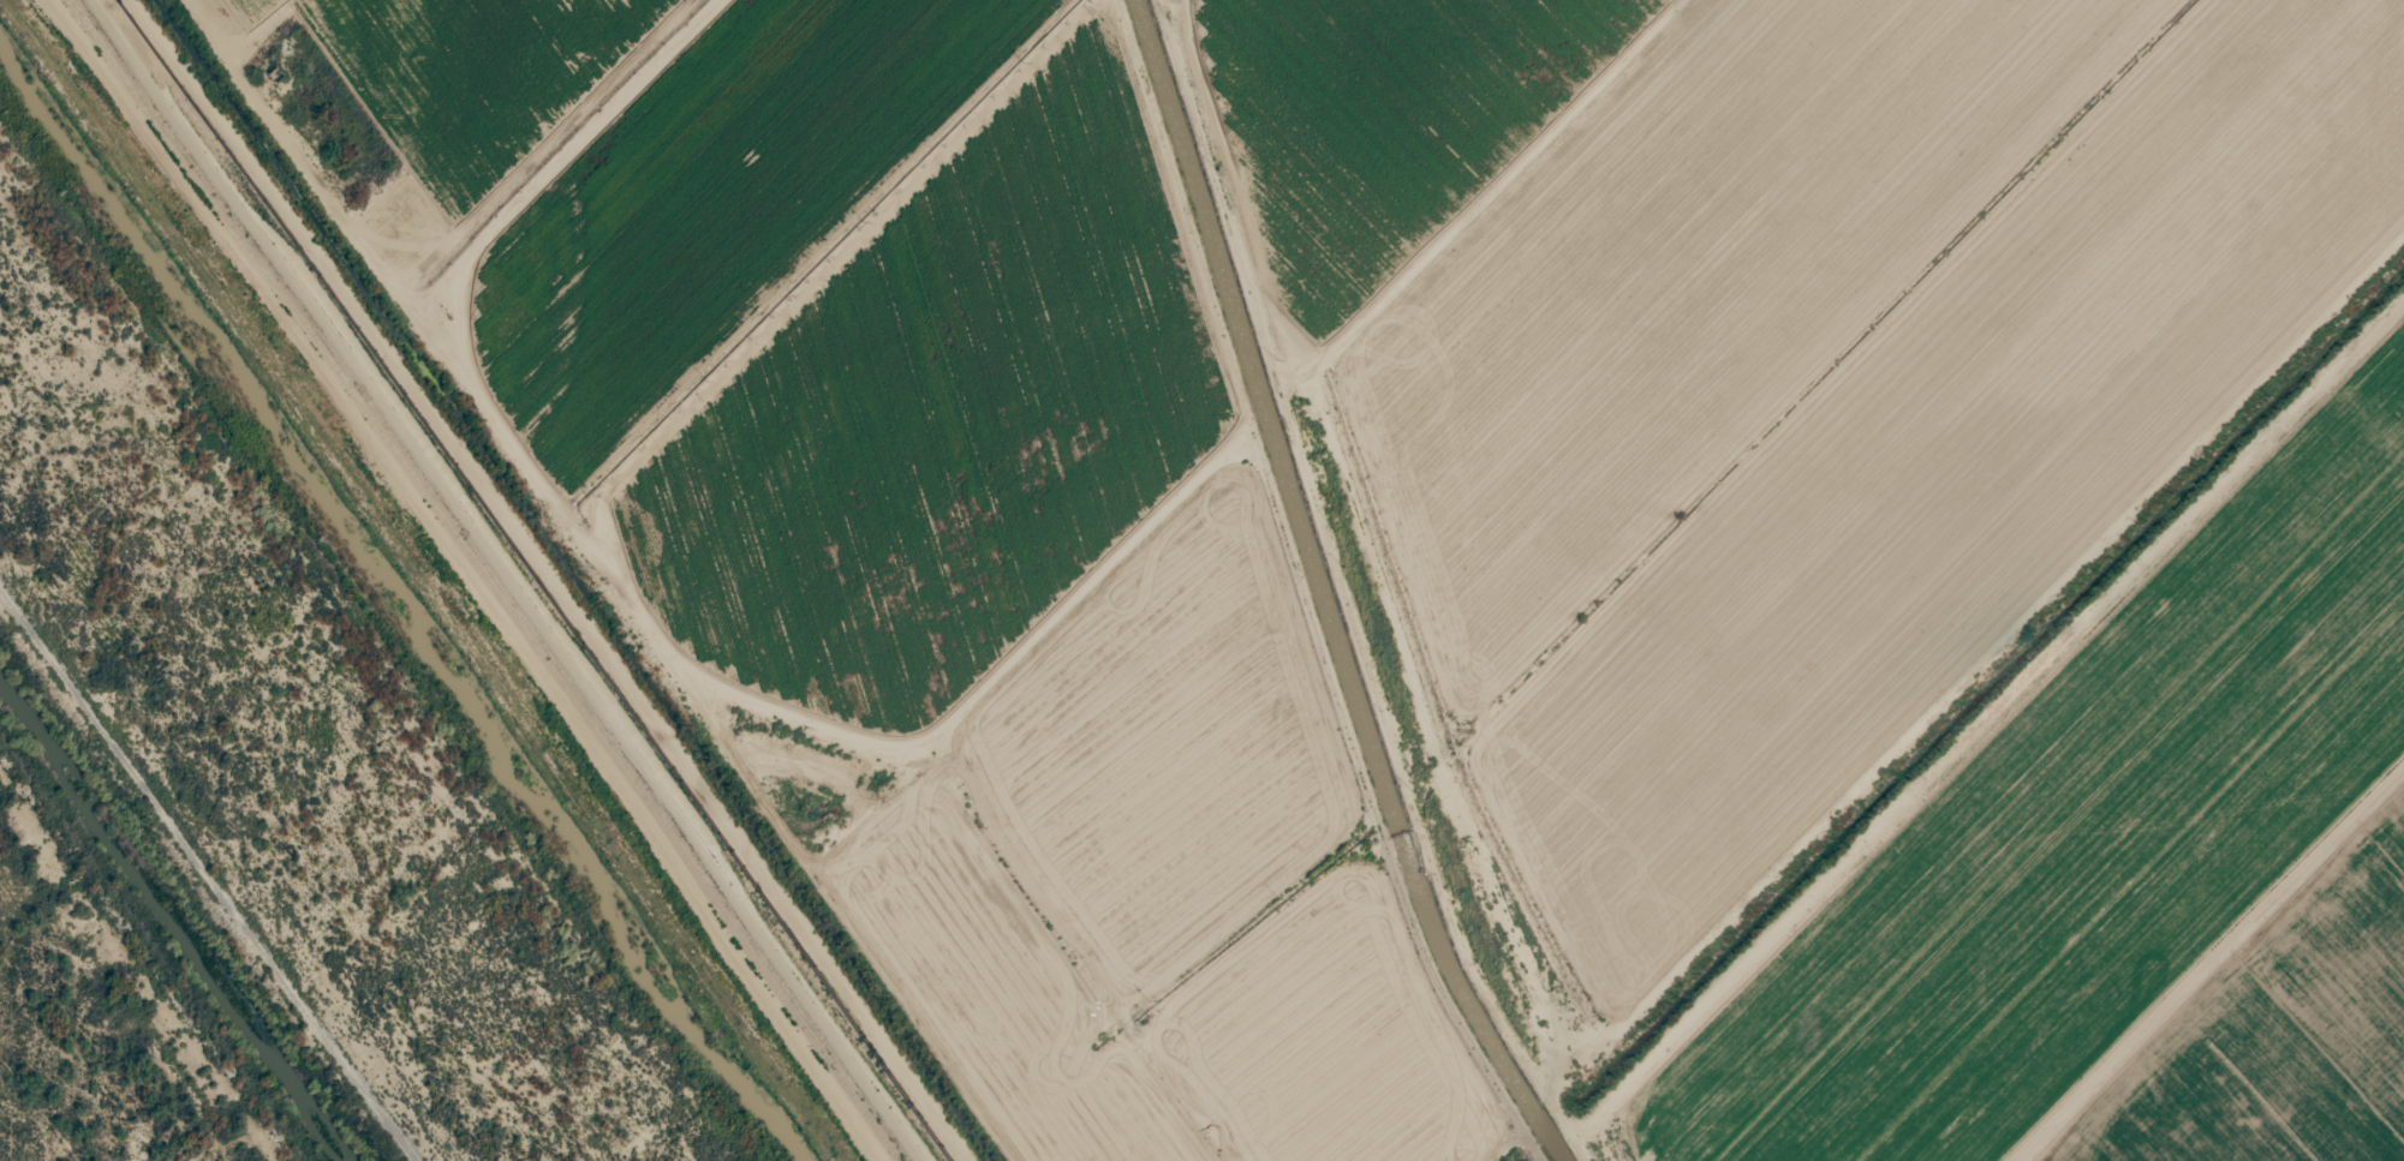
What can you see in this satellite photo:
road: (1219, 10)
road: (284, 146)
road: (565, 164)
road: (1517, 180)
road: (495, 580)
river: (401, 608)
road: (2012, 771)

